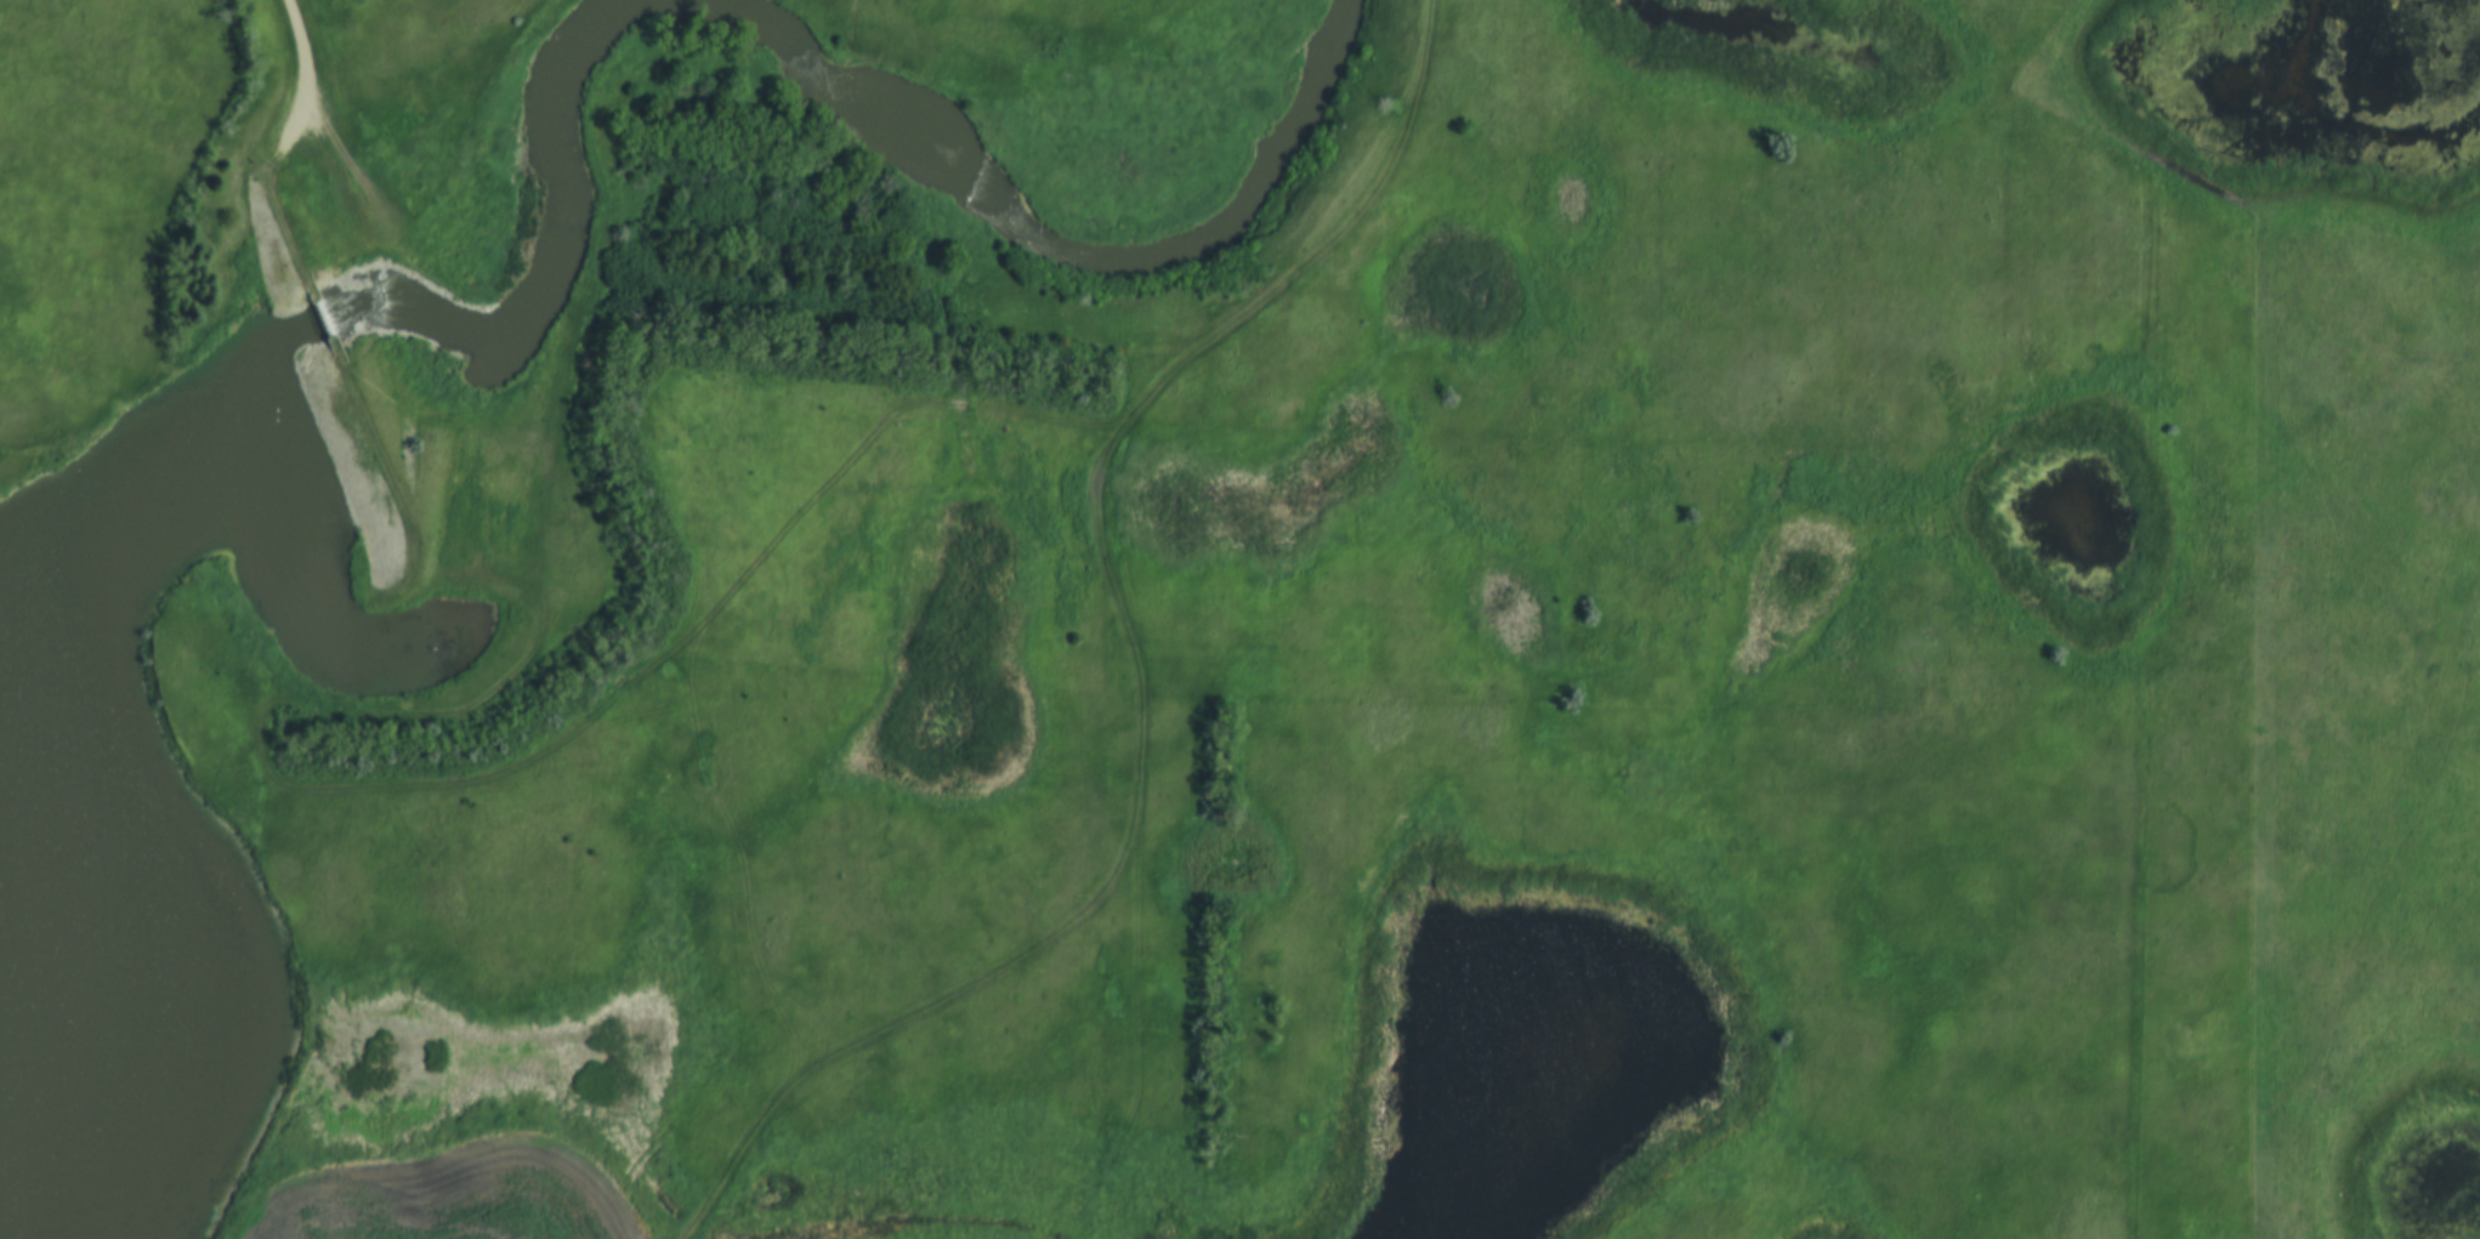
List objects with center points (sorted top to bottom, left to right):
road: (306, 76)
river: (812, 89)
dam: (346, 381)
river: (197, 490)

